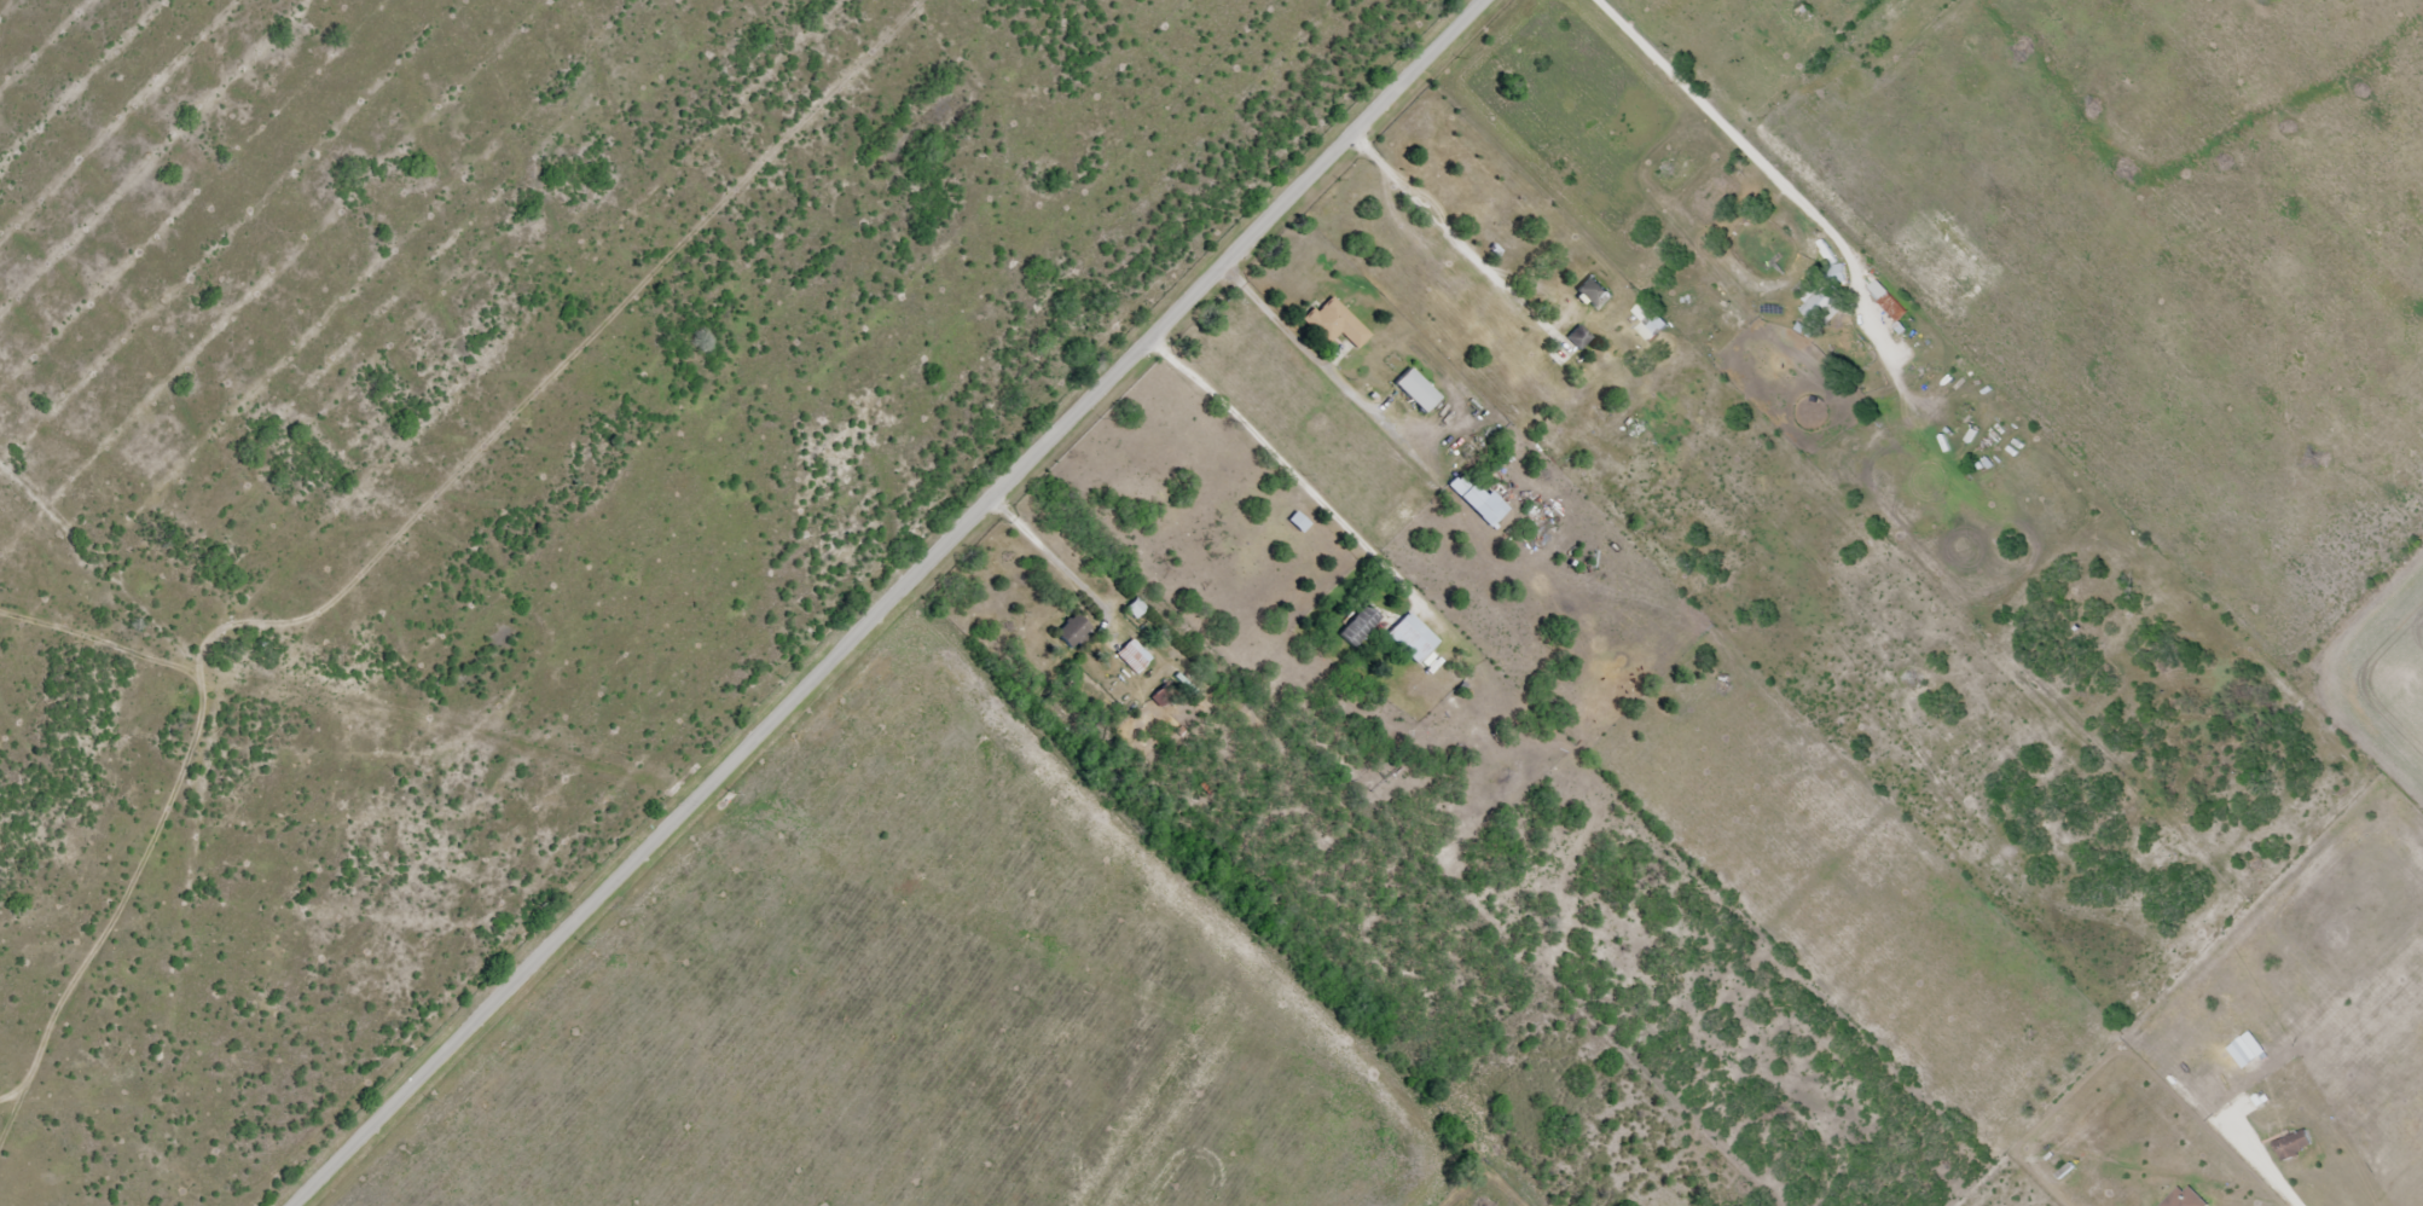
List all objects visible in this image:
building: (1879, 289)
building: (1593, 291)
building: (1827, 300)
building: (1651, 321)
building: (1335, 324)
building: (1579, 337)
building: (1892, 361)
building: (1418, 390)
road: (1283, 463)
building: (1480, 499)
road: (880, 603)
building: (1360, 627)
building: (1073, 631)
building: (1414, 638)
building: (1135, 656)
building: (2295, 1147)

